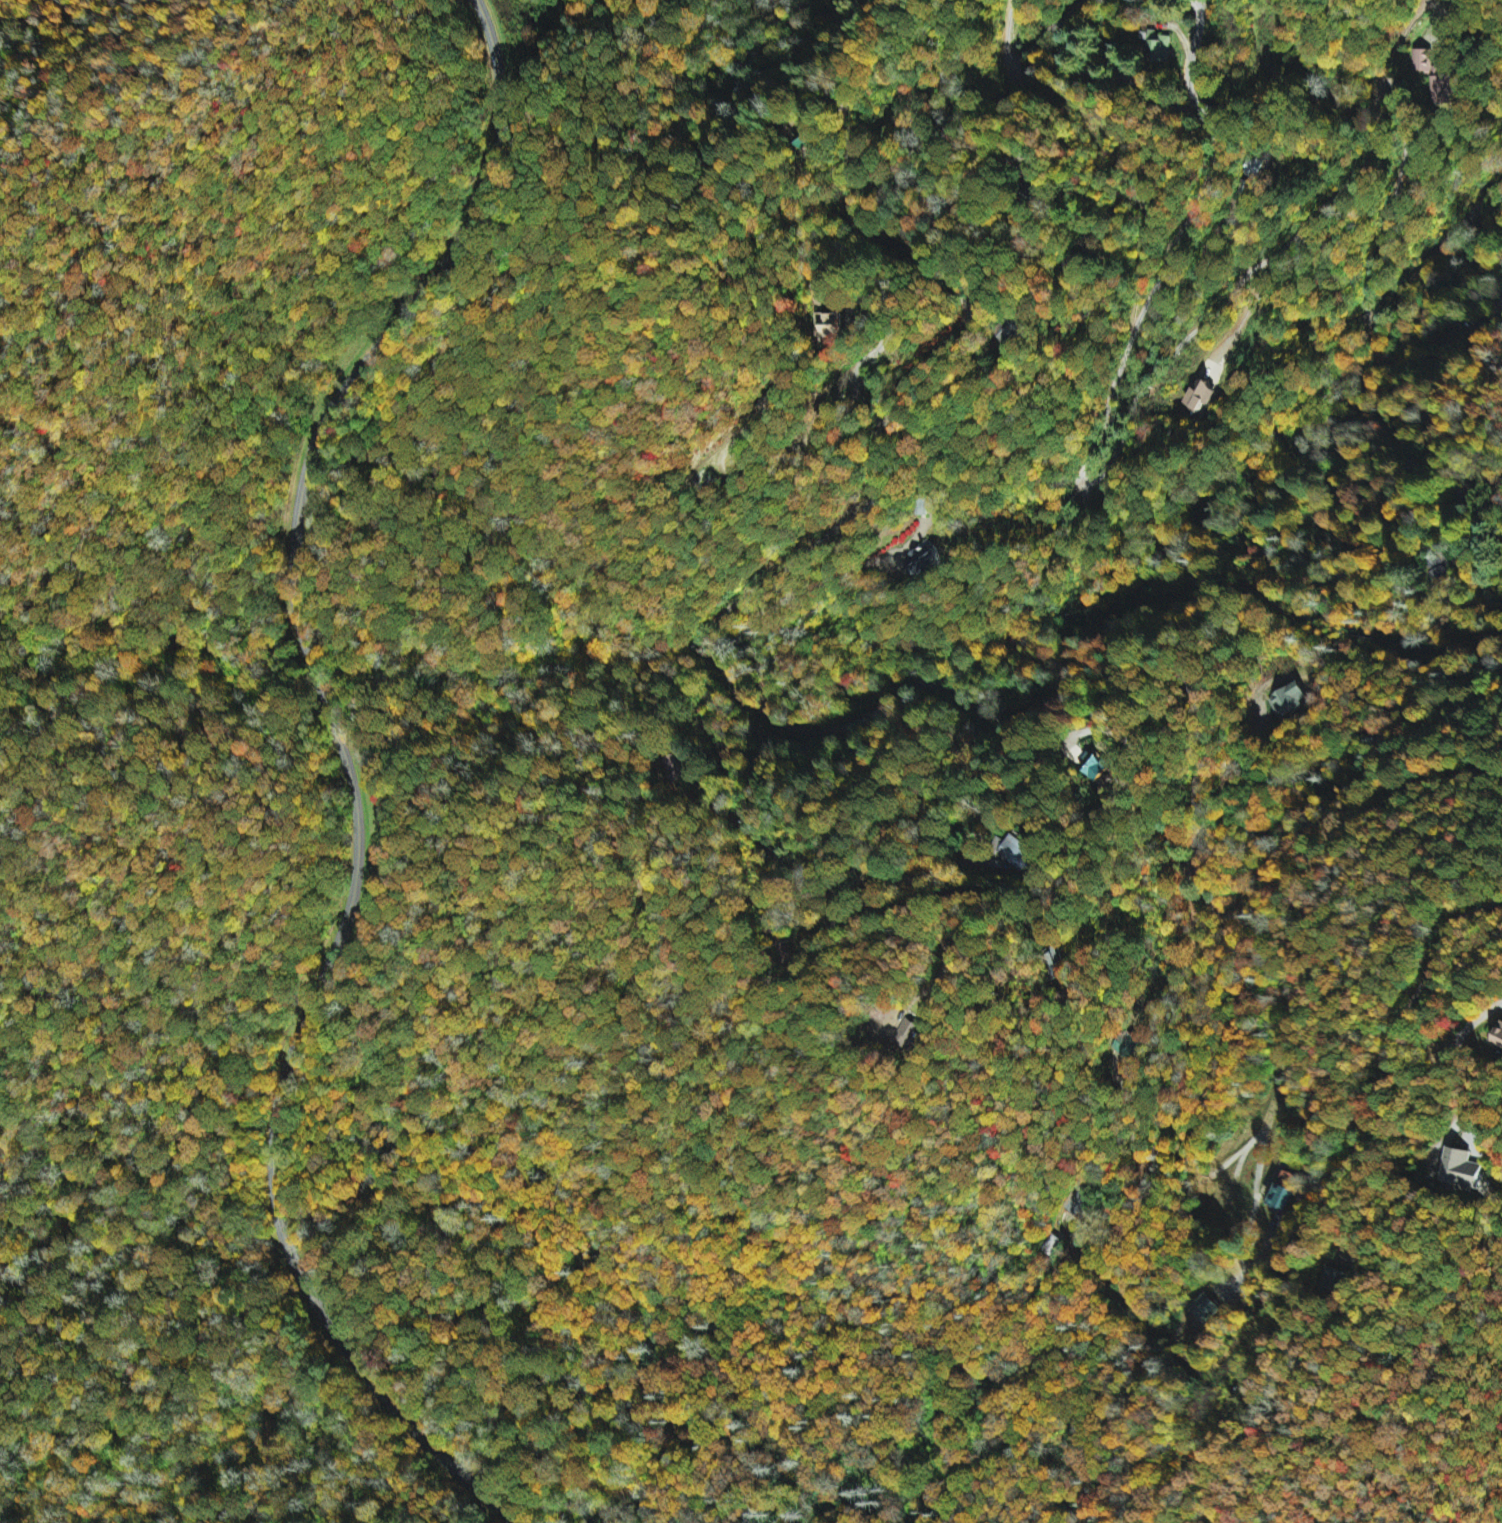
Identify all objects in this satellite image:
building: (1157, 47)
road: (1025, 53)
building: (1433, 73)
road: (1381, 123)
road: (932, 217)
building: (832, 324)
building: (1201, 397)
building: (920, 559)
road: (1454, 635)
road: (712, 660)
road: (1032, 660)
building: (1290, 700)
building: (1093, 768)
road: (348, 777)
building: (1021, 851)
building: (1058, 964)
road: (1433, 989)
building: (905, 1034)
building: (1496, 1035)
building: (1460, 1170)
building: (1283, 1198)
road: (1315, 1233)
road: (849, 1276)
road: (9, 1516)

